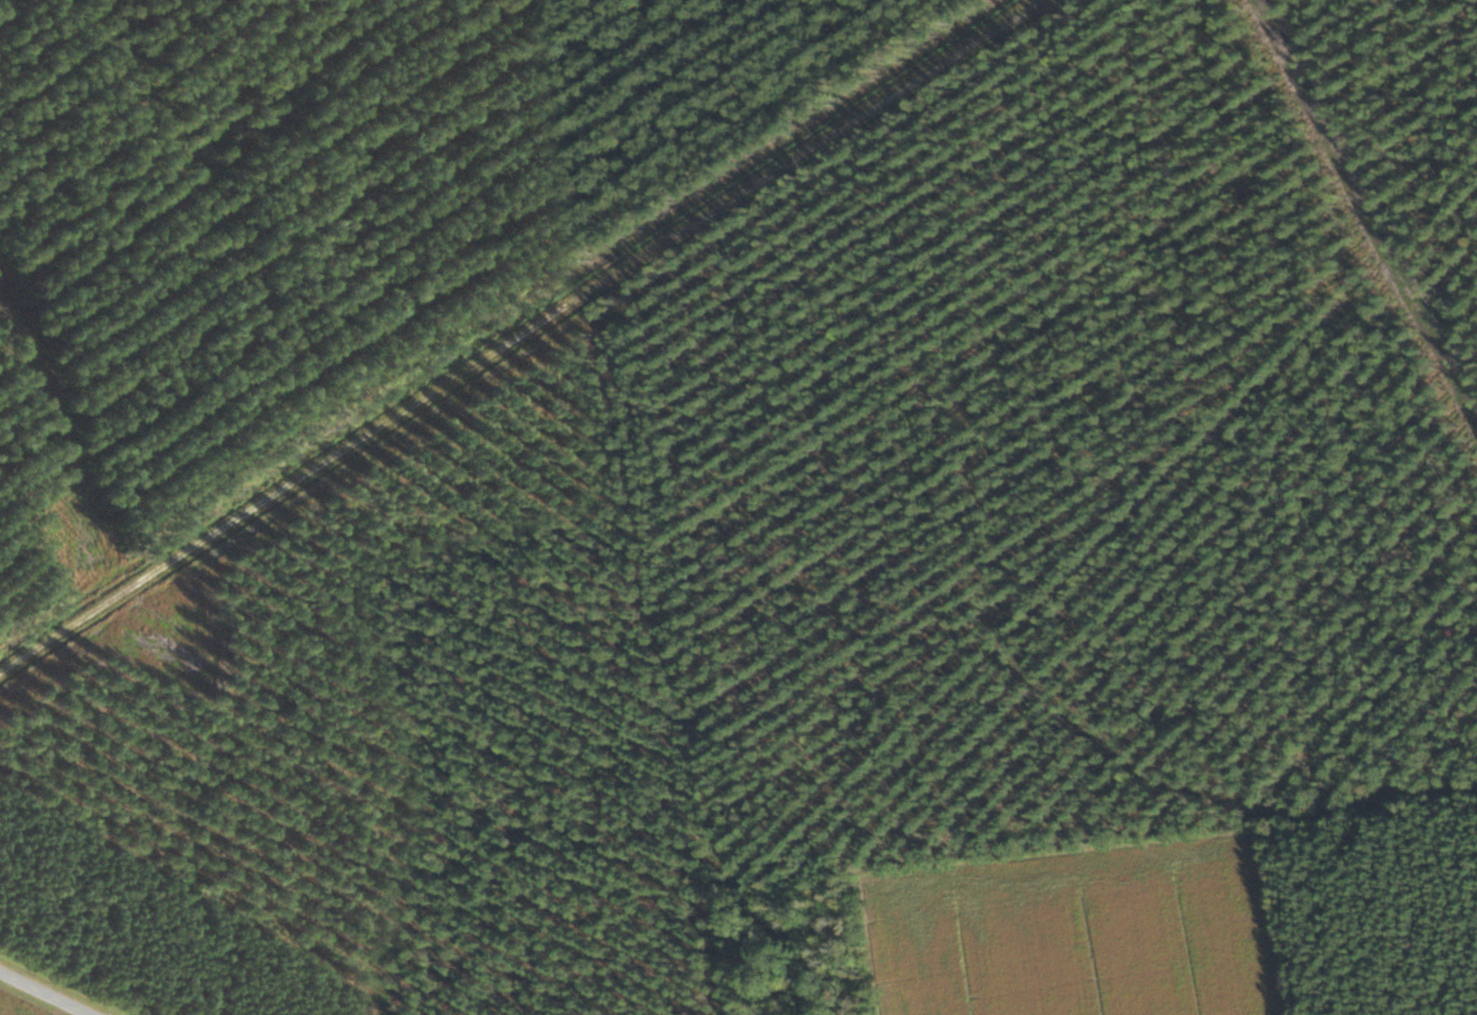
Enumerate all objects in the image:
road: (43, 994)

